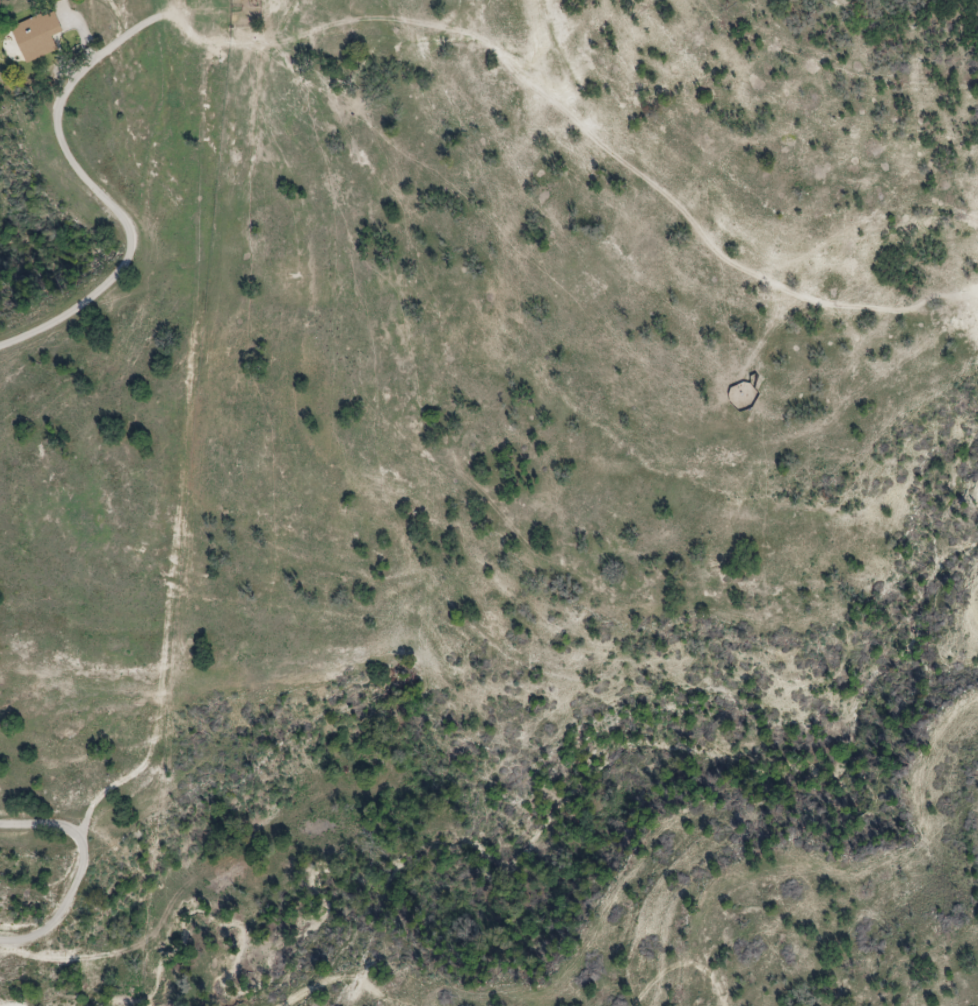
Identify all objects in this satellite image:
building: (275, 5)
building: (42, 35)

